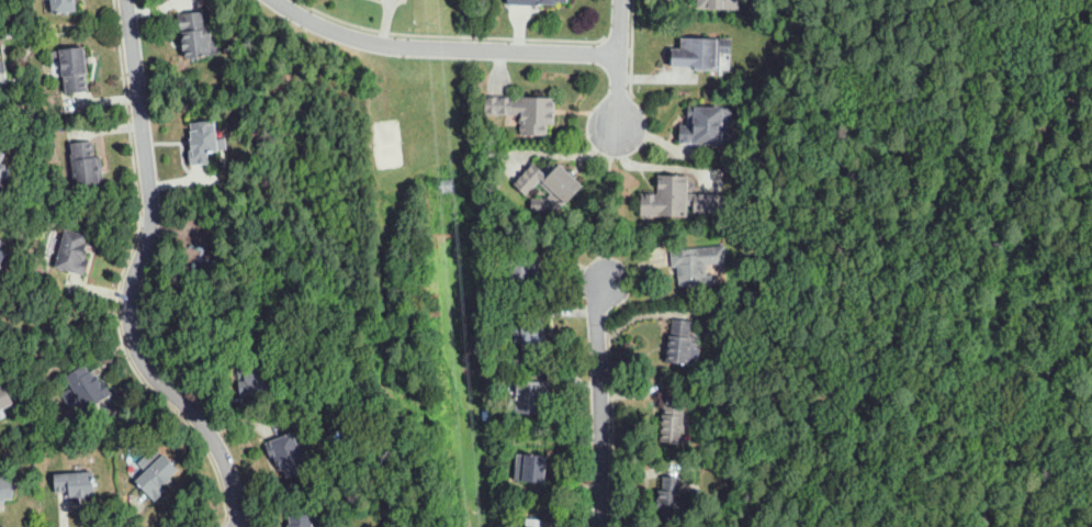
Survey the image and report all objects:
building: (713, 1)
building: (536, 2)
building: (64, 5)
building: (198, 34)
road: (454, 36)
road: (441, 48)
road: (632, 54)
building: (699, 54)
road: (619, 65)
building: (2, 66)
building: (72, 67)
building: (0, 88)
building: (521, 111)
building: (707, 126)
building: (204, 142)
park: (387, 142)
building: (86, 165)
building: (3, 167)
building: (550, 187)
power tower: (452, 192)
building: (674, 194)
road: (601, 205)
building: (1, 245)
building: (486, 245)
building: (72, 253)
building: (2, 255)
building: (696, 265)
building: (524, 272)
road: (131, 277)
road: (122, 278)
building: (532, 333)
building: (680, 344)
building: (518, 368)
building: (254, 374)
building: (88, 386)
building: (530, 396)
building: (4, 397)
road: (601, 403)
road: (613, 416)
building: (672, 419)
building: (288, 453)
building: (530, 468)
building: (157, 476)
building: (76, 483)
building: (7, 489)
building: (669, 498)
building: (302, 520)
building: (533, 523)
road: (224, 524)

